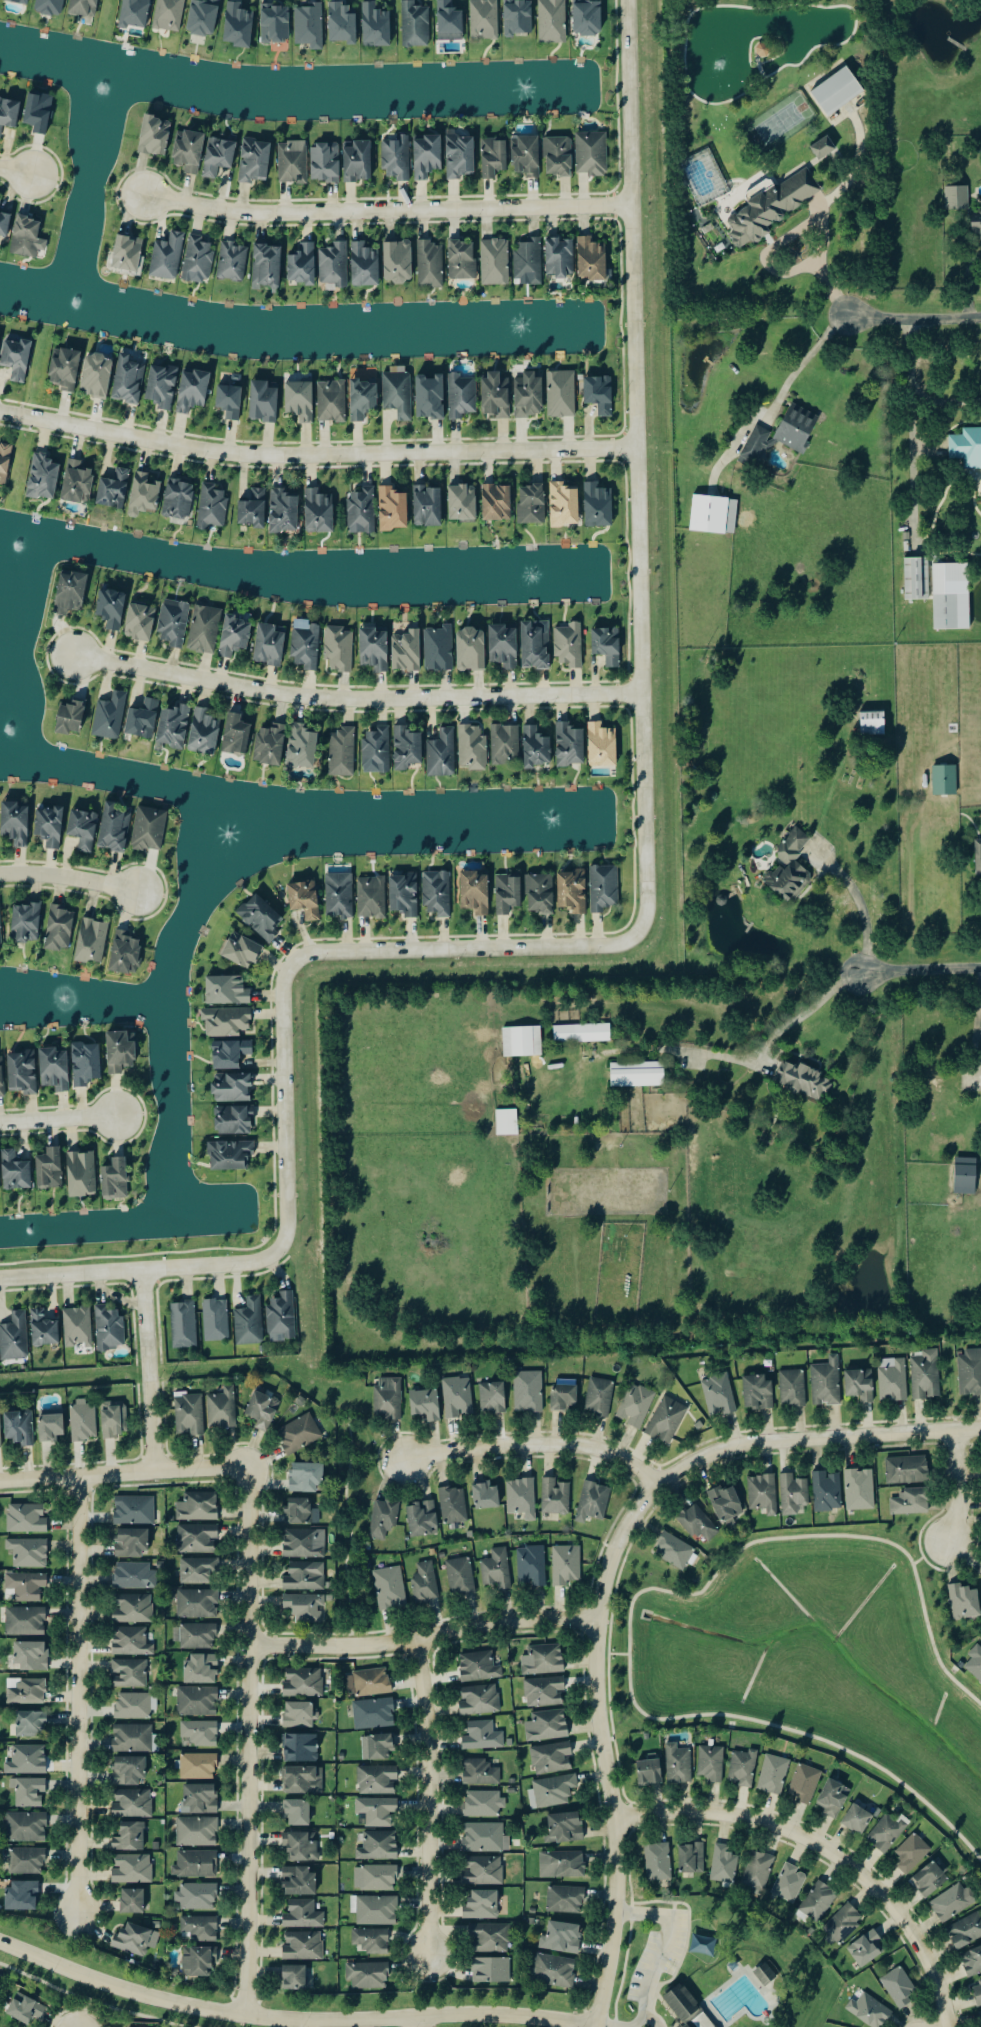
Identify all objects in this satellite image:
building: (20, 1)
building: (84, 7)
building: (135, 12)
building: (170, 14)
building: (204, 16)
building: (518, 16)
building: (588, 16)
building: (485, 19)
building: (553, 20)
building: (450, 21)
building: (276, 22)
building: (343, 22)
building: (239, 24)
building: (377, 24)
building: (416, 24)
building: (310, 25)
building: (764, 49)
fountain: (103, 87)
fountain: (521, 91)
building: (836, 91)
building: (39, 111)
building: (9, 112)
building: (155, 134)
building: (822, 148)
building: (190, 150)
building: (592, 152)
building: (527, 154)
building: (219, 155)
building: (428, 155)
building: (461, 155)
building: (559, 155)
building: (494, 156)
building: (397, 157)
building: (255, 159)
building: (359, 160)
building: (293, 161)
building: (326, 161)
road: (14, 172)
building: (956, 198)
building: (0, 201)
building: (772, 207)
road: (384, 211)
building: (977, 221)
road: (806, 222)
building: (4, 223)
building: (28, 236)
building: (128, 252)
building: (168, 256)
building: (560, 256)
building: (199, 258)
building: (592, 258)
building: (462, 259)
building: (398, 260)
building: (529, 260)
building: (233, 261)
building: (496, 261)
building: (430, 263)
building: (303, 264)
building: (335, 264)
building: (365, 264)
building: (267, 265)
fountain: (79, 308)
road: (915, 320)
building: (18, 358)
road: (804, 361)
building: (65, 368)
building: (97, 375)
building: (129, 379)
building: (162, 385)
building: (193, 390)
building: (399, 393)
building: (562, 393)
building: (600, 393)
building: (530, 394)
building: (462, 395)
building: (496, 395)
building: (431, 396)
road: (912, 397)
building: (363, 398)
building: (300, 399)
building: (230, 400)
building: (333, 400)
building: (264, 401)
road: (941, 401)
building: (757, 443)
building: (967, 447)
road: (316, 456)
building: (5, 461)
road: (638, 466)
building: (43, 476)
building: (78, 481)
building: (114, 489)
building: (144, 494)
building: (179, 498)
building: (463, 502)
building: (497, 502)
building: (532, 504)
building: (564, 504)
building: (428, 505)
building: (599, 505)
building: (213, 506)
building: (254, 508)
building: (393, 508)
building: (362, 510)
building: (284, 511)
building: (319, 511)
building: (708, 514)
fountain: (14, 544)
building: (918, 577)
building: (71, 592)
building: (952, 596)
building: (112, 607)
building: (140, 621)
building: (174, 622)
building: (205, 629)
building: (235, 635)
building: (269, 644)
building: (535, 644)
building: (504, 645)
building: (570, 645)
building: (608, 645)
building: (307, 647)
building: (340, 648)
building: (439, 648)
building: (374, 649)
building: (472, 649)
building: (407, 650)
road: (355, 698)
building: (110, 716)
building: (71, 717)
building: (143, 719)
building: (871, 723)
building: (174, 726)
fountain: (7, 729)
building: (204, 732)
building: (237, 734)
building: (505, 742)
building: (271, 744)
building: (570, 745)
building: (603, 745)
building: (303, 747)
building: (473, 747)
building: (537, 747)
building: (408, 748)
building: (377, 750)
building: (343, 751)
building: (443, 753)
building: (944, 780)
building: (15, 823)
building: (50, 826)
building: (114, 828)
building: (150, 828)
building: (83, 829)
fountain: (225, 841)
building: (978, 858)
building: (790, 866)
road: (68, 879)
building: (605, 887)
building: (573, 891)
building: (475, 892)
building: (438, 893)
building: (541, 893)
building: (340, 894)
building: (405, 894)
building: (509, 894)
building: (372, 897)
building: (306, 899)
road: (862, 909)
building: (261, 917)
building: (26, 923)
building: (60, 928)
building: (0, 930)
building: (92, 941)
road: (466, 948)
building: (242, 950)
building: (125, 953)
road: (922, 974)
building: (227, 990)
fountain: (66, 1001)
building: (227, 1021)
building: (581, 1034)
road: (782, 1035)
building: (521, 1041)
building: (121, 1051)
building: (232, 1054)
building: (86, 1064)
building: (55, 1069)
building: (23, 1072)
building: (637, 1074)
building: (2, 1076)
building: (804, 1080)
building: (233, 1088)
road: (283, 1108)
road: (57, 1119)
building: (235, 1120)
building: (506, 1122)
building: (231, 1155)
building: (50, 1169)
building: (15, 1171)
building: (81, 1174)
building: (965, 1176)
building: (116, 1180)
fountain: (27, 1237)
road: (138, 1269)
building: (281, 1317)
building: (215, 1320)
building: (249, 1323)
building: (183, 1324)
building: (77, 1327)
building: (112, 1328)
building: (44, 1329)
building: (15, 1337)
road: (146, 1369)
building: (969, 1373)
building: (925, 1376)
building: (892, 1380)
building: (825, 1383)
building: (860, 1385)
building: (792, 1388)
building: (528, 1392)
building: (757, 1393)
building: (718, 1396)
building: (563, 1397)
building: (457, 1398)
building: (492, 1398)
building: (599, 1398)
building: (387, 1400)
building: (425, 1404)
building: (635, 1406)
building: (220, 1408)
building: (260, 1411)
building: (189, 1414)
building: (666, 1420)
building: (111, 1422)
building: (83, 1423)
building: (52, 1427)
building: (19, 1429)
building: (1, 1431)
building: (298, 1435)
road: (533, 1446)
building: (907, 1470)
road: (122, 1471)
building: (305, 1478)
road: (955, 1489)
building: (859, 1490)
building: (827, 1492)
building: (762, 1494)
building: (485, 1496)
building: (794, 1496)
building: (554, 1497)
building: (521, 1498)
building: (592, 1502)
building: (911, 1502)
building: (725, 1505)
building: (453, 1506)
building: (197, 1508)
building: (133, 1510)
building: (298, 1511)
building: (28, 1517)
building: (383, 1519)
building: (422, 1519)
building: (698, 1523)
building: (198, 1540)
building: (304, 1543)
building: (128, 1544)
building: (673, 1551)
building: (31, 1552)
building: (566, 1565)
building: (531, 1567)
building: (496, 1570)
building: (200, 1571)
building: (309, 1576)
building: (133, 1577)
building: (460, 1577)
building: (425, 1582)
road: (602, 1583)
building: (26, 1585)
building: (389, 1589)
building: (964, 1603)
building: (196, 1604)
building: (305, 1607)
building: (132, 1609)
road: (627, 1614)
building: (26, 1621)
building: (196, 1636)
road: (425, 1639)
building: (131, 1641)
road: (611, 1655)
building: (31, 1656)
building: (542, 1660)
building: (975, 1662)
building: (478, 1667)
building: (200, 1670)
building: (129, 1673)
building: (371, 1682)
building: (303, 1683)
building: (24, 1692)
building: (544, 1692)
road: (77, 1695)
building: (197, 1701)
building: (479, 1701)
building: (131, 1706)
building: (302, 1714)
building: (373, 1714)
building: (27, 1723)
building: (546, 1726)
building: (199, 1735)
building: (482, 1737)
building: (132, 1738)
road: (249, 1739)
building: (377, 1748)
building: (300, 1749)
building: (551, 1759)
building: (25, 1761)
building: (710, 1764)
building: (678, 1765)
building: (197, 1766)
building: (742, 1769)
building: (128, 1772)
building: (480, 1773)
building: (649, 1773)
building: (773, 1775)
building: (302, 1781)
building: (377, 1781)
building: (803, 1785)
building: (27, 1791)
building: (552, 1791)
building: (197, 1797)
road: (428, 1798)
building: (833, 1799)
building: (131, 1803)
building: (483, 1804)
building: (869, 1809)
building: (376, 1812)
building: (297, 1813)
building: (857, 1820)
building: (565, 1827)
building: (26, 1829)
building: (195, 1832)
building: (130, 1838)
building: (485, 1838)
building: (301, 1847)
building: (378, 1847)
road: (825, 1850)
building: (910, 1855)
building: (691, 1859)
building: (27, 1862)
building: (657, 1863)
building: (195, 1864)
building: (561, 1865)
building: (724, 1865)
building: (131, 1869)
building: (483, 1871)
building: (757, 1872)
building: (932, 1876)
building: (375, 1879)
building: (298, 1882)
building: (789, 1884)
building: (196, 1896)
building: (21, 1897)
building: (565, 1899)
building: (132, 1902)
building: (818, 1902)
building: (953, 1902)
building: (481, 1905)
building: (376, 1910)
building: (302, 1915)
building: (843, 1923)
building: (198, 1929)
building: (966, 1930)
building: (561, 1937)
building: (488, 1938)
building: (135, 1939)
building: (371, 1941)
building: (303, 1946)
building: (867, 1948)
road: (653, 1953)
building: (972, 1961)
building: (196, 1962)
building: (732, 1965)
park: (715, 1967)
building: (491, 1969)
building: (555, 1971)
building: (367, 1975)
building: (297, 1977)
building: (899, 1987)
building: (977, 1992)
building: (680, 2003)
building: (25, 2009)
building: (869, 2011)
building: (980, 2015)
road: (291, 2020)
road: (416, 2022)
road: (595, 2026)

